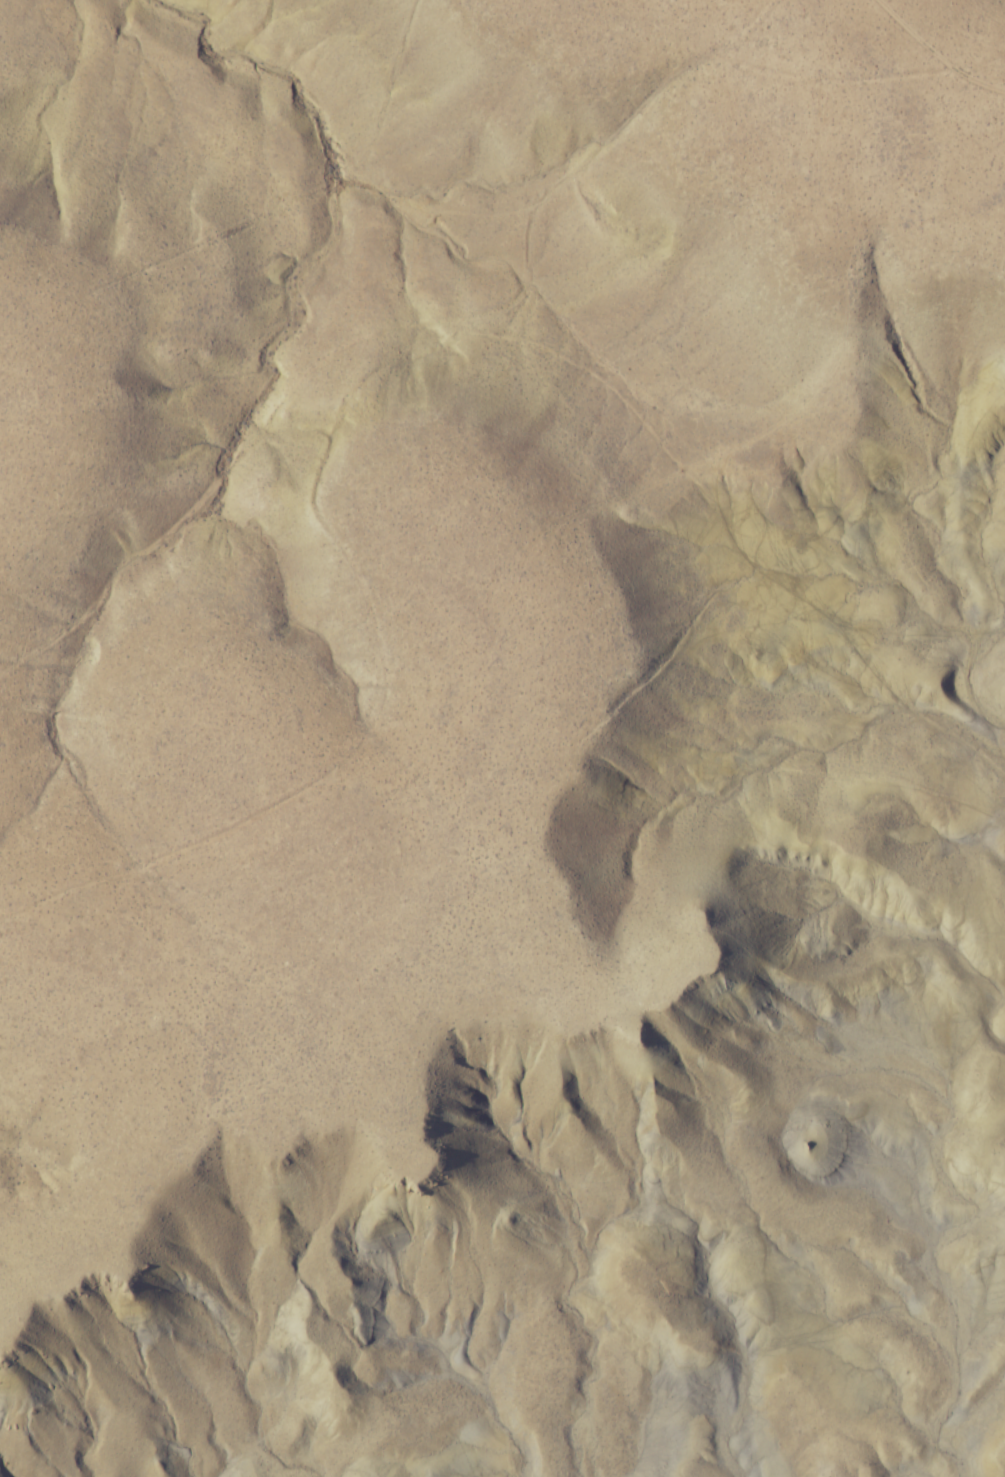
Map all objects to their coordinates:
road: (934, 56)

